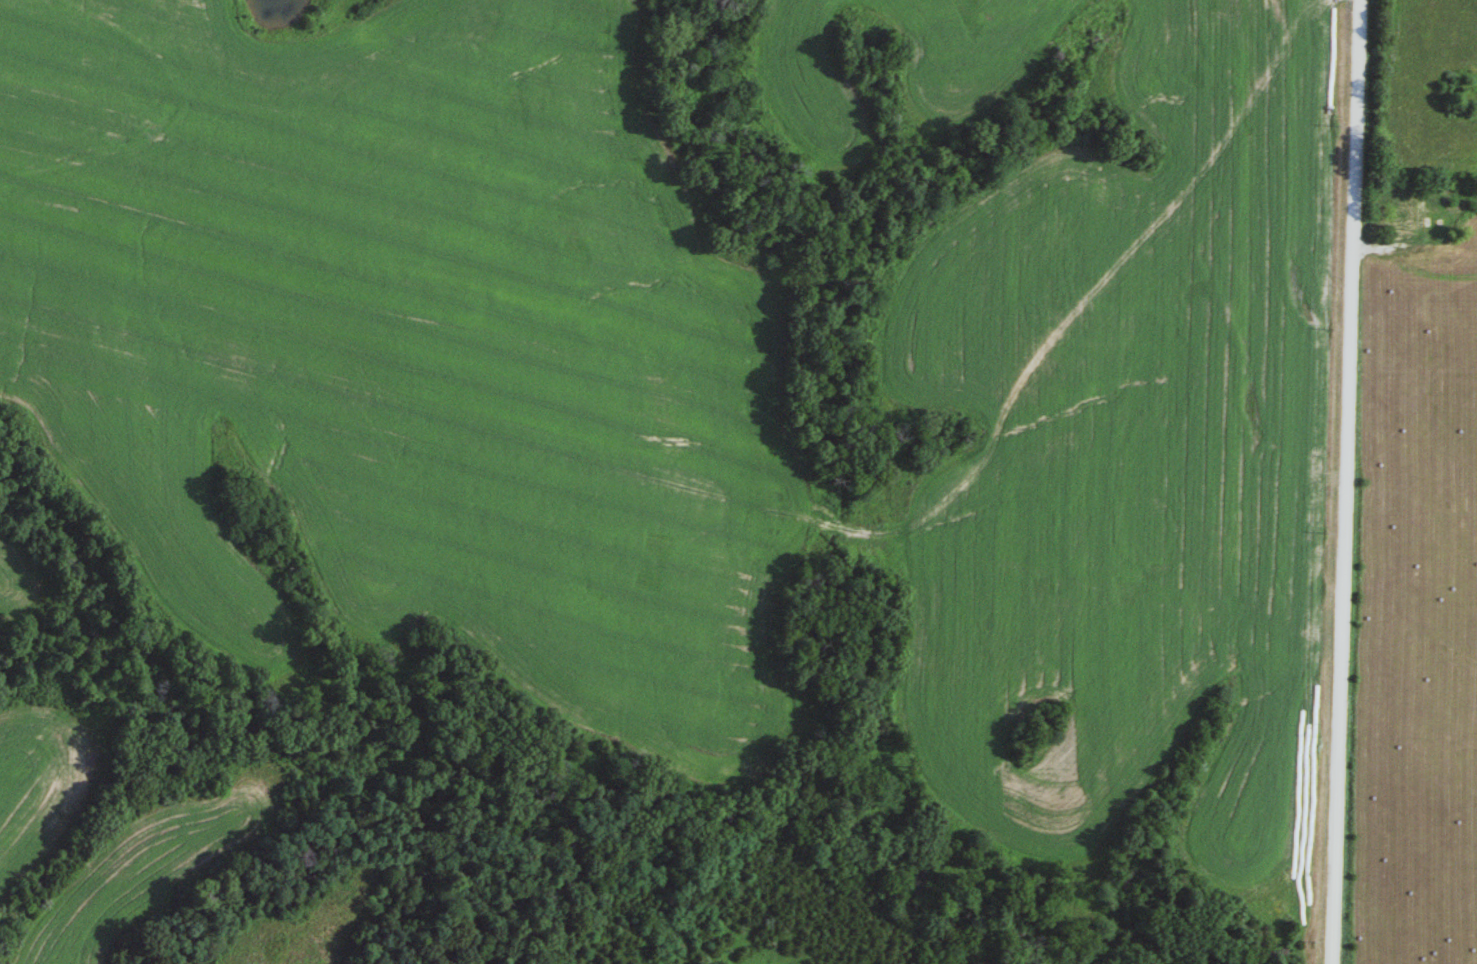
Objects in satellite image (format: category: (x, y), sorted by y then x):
building: (1419, 219)
road: (1345, 481)

